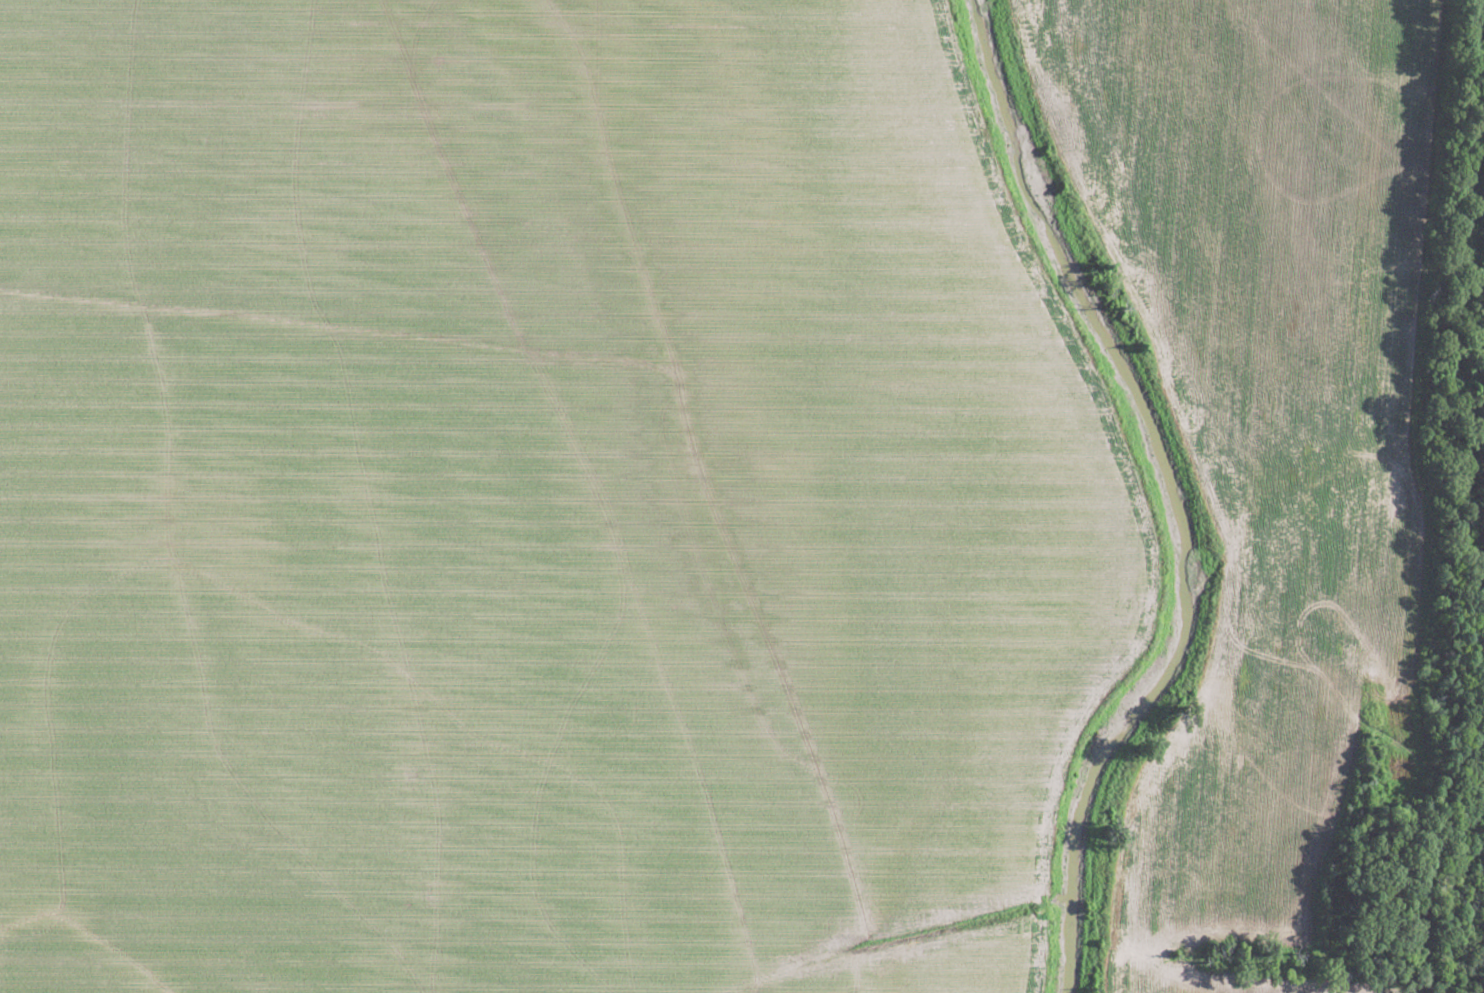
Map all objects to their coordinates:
road: (1215, 493)

